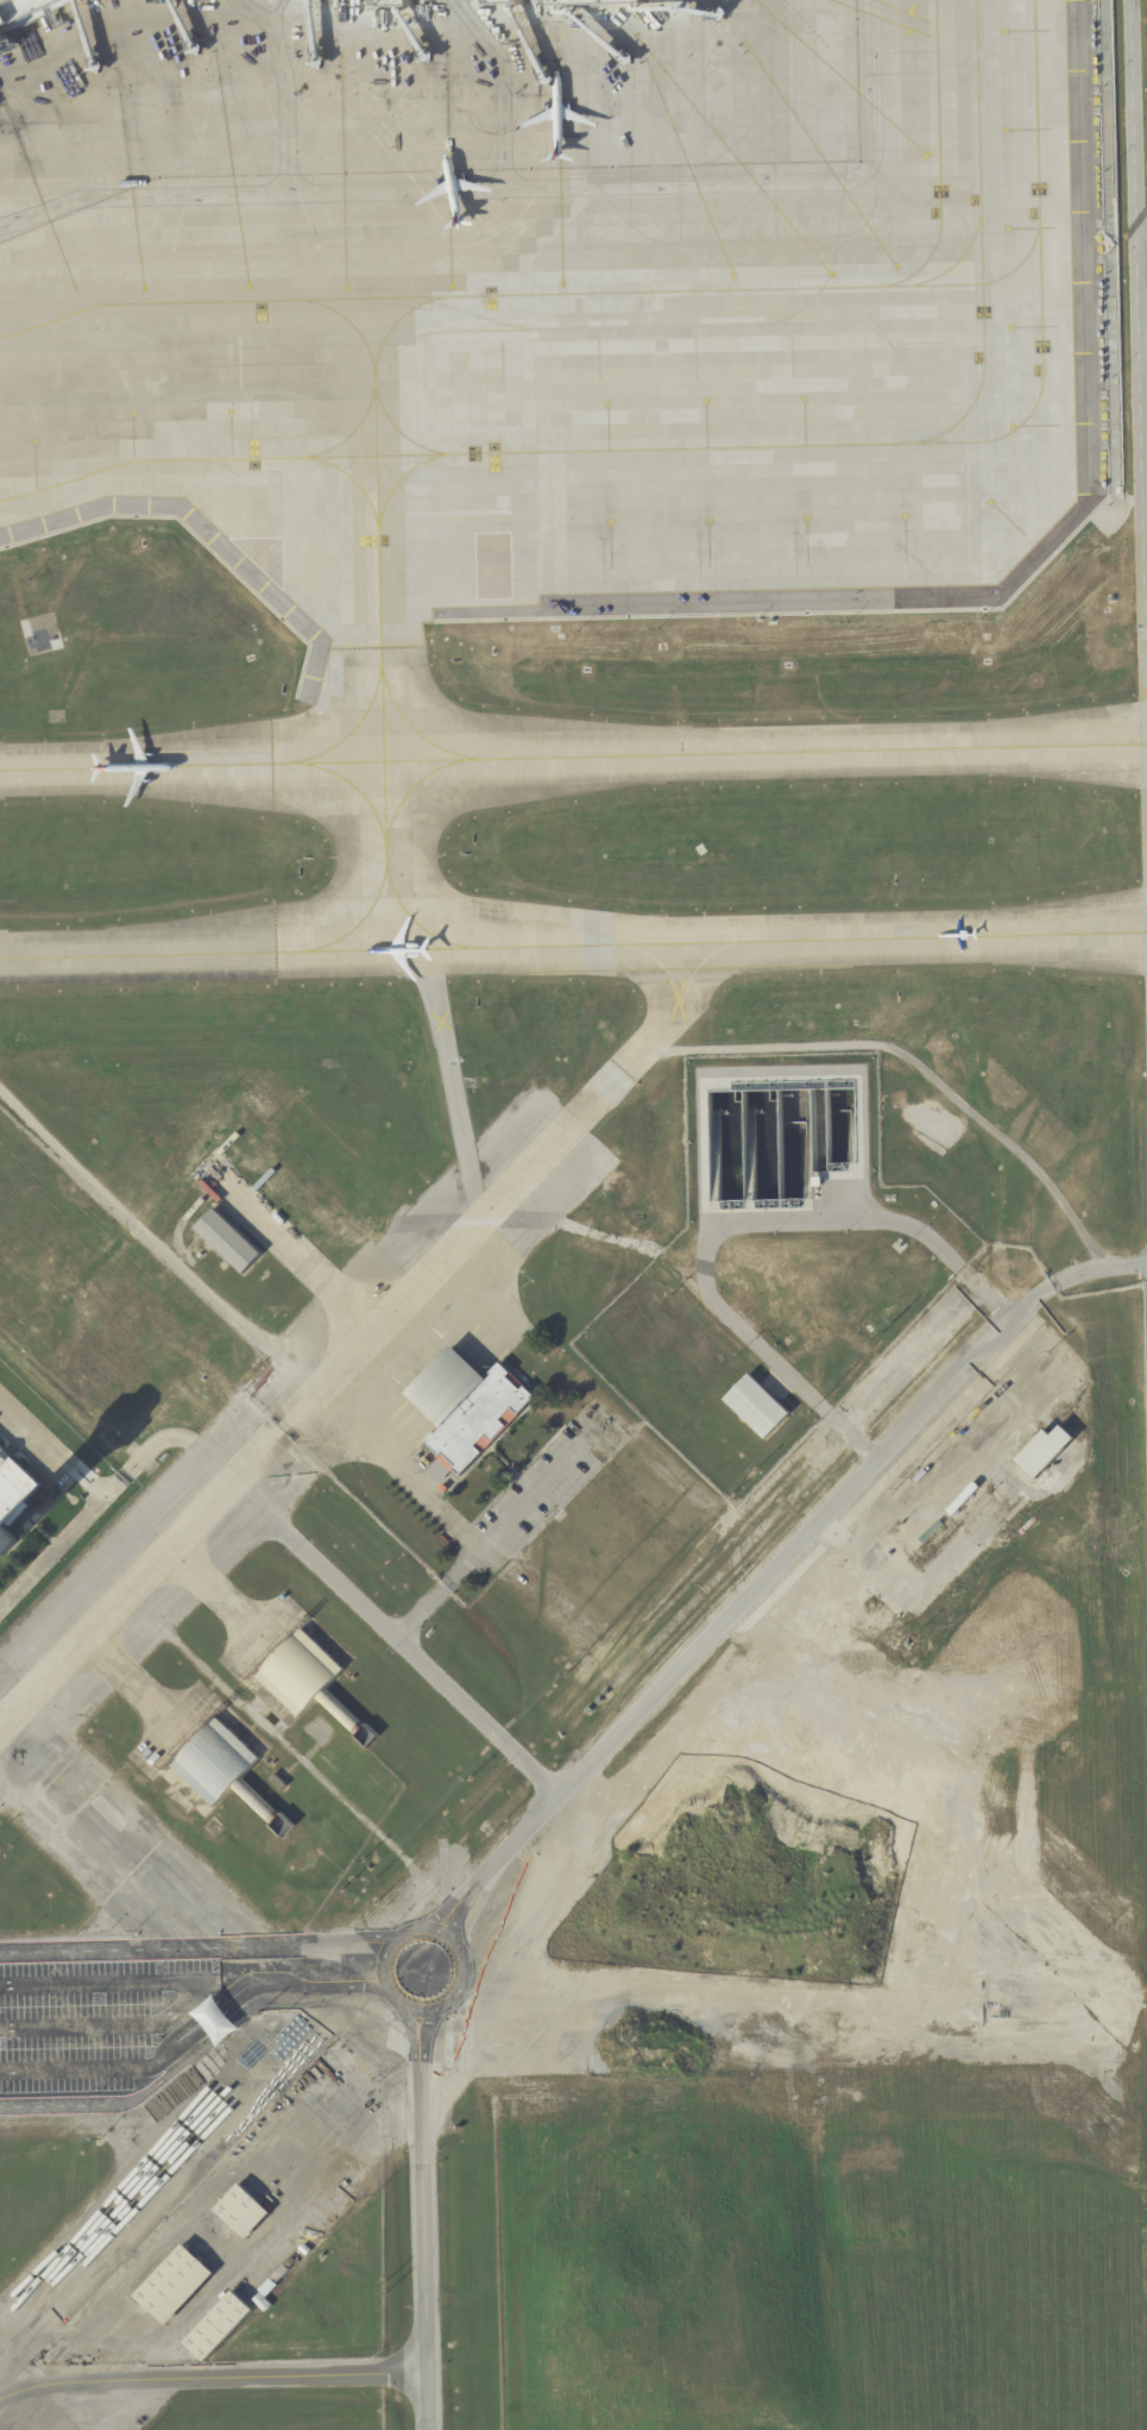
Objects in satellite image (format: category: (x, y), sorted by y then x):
airport terminal: (585, 4)
building: (585, 4)
airport terminal: (498, 5)
building: (498, 5)
airport terminal: (385, 6)
building: (385, 6)
airport terminal: (19, 8)
building: (19, 8)
road: (290, 84)
road: (515, 182)
airport taxiway: (1042, 207)
airport taxiway: (664, 294)
airport apron: (563, 302)
airport taxiway: (215, 303)
airport taxiway: (395, 326)
road: (1135, 398)
airport taxiway: (396, 431)
airport taxiway: (347, 444)
airport taxiway: (842, 451)
airport taxiway: (214, 463)
airport taxiway: (342, 473)
airport taxiway: (401, 481)
building: (512, 609)
airport taxiway: (379, 635)
airport taxiway: (410, 727)
airport taxiway: (349, 729)
airport taxiway: (573, 755)
airport taxiway: (353, 786)
airport taxiway: (410, 787)
airport taxiway: (358, 921)
airport taxiway: (573, 944)
building: (774, 1141)
airport: (573, 1214)
road: (732, 1225)
building: (887, 1237)
building: (228, 1241)
building: (856, 1270)
road: (1098, 1270)
building: (1058, 1379)
building: (756, 1406)
building: (467, 1409)
building: (1044, 1451)
road: (399, 1469)
road: (113, 1476)
building: (443, 1490)
building: (13, 1496)
building: (943, 1507)
building: (982, 1512)
road: (757, 1588)
road: (111, 1605)
building: (857, 1610)
road: (393, 1635)
building: (310, 1681)
building: (226, 1771)
building: (277, 1782)
road: (439, 1911)
road: (458, 1916)
road: (452, 1939)
road: (200, 1947)
road: (190, 1995)
road: (220, 1996)
parking lot: (94, 2009)
road: (238, 2010)
road: (212, 2015)
building: (214, 2020)
road: (415, 2020)
road: (428, 2021)
road: (422, 2059)
road: (76, 2068)
road: (52, 2103)
road: (206, 2164)
building: (363, 2185)
building: (242, 2211)
building: (308, 2242)
building: (321, 2243)
building: (304, 2246)
building: (301, 2252)
road: (422, 2253)
building: (296, 2255)
building: (322, 2256)
building: (292, 2259)
building: (289, 2263)
building: (279, 2274)
building: (174, 2285)
building: (266, 2288)
building: (261, 2303)
building: (219, 2327)
road: (212, 2374)

